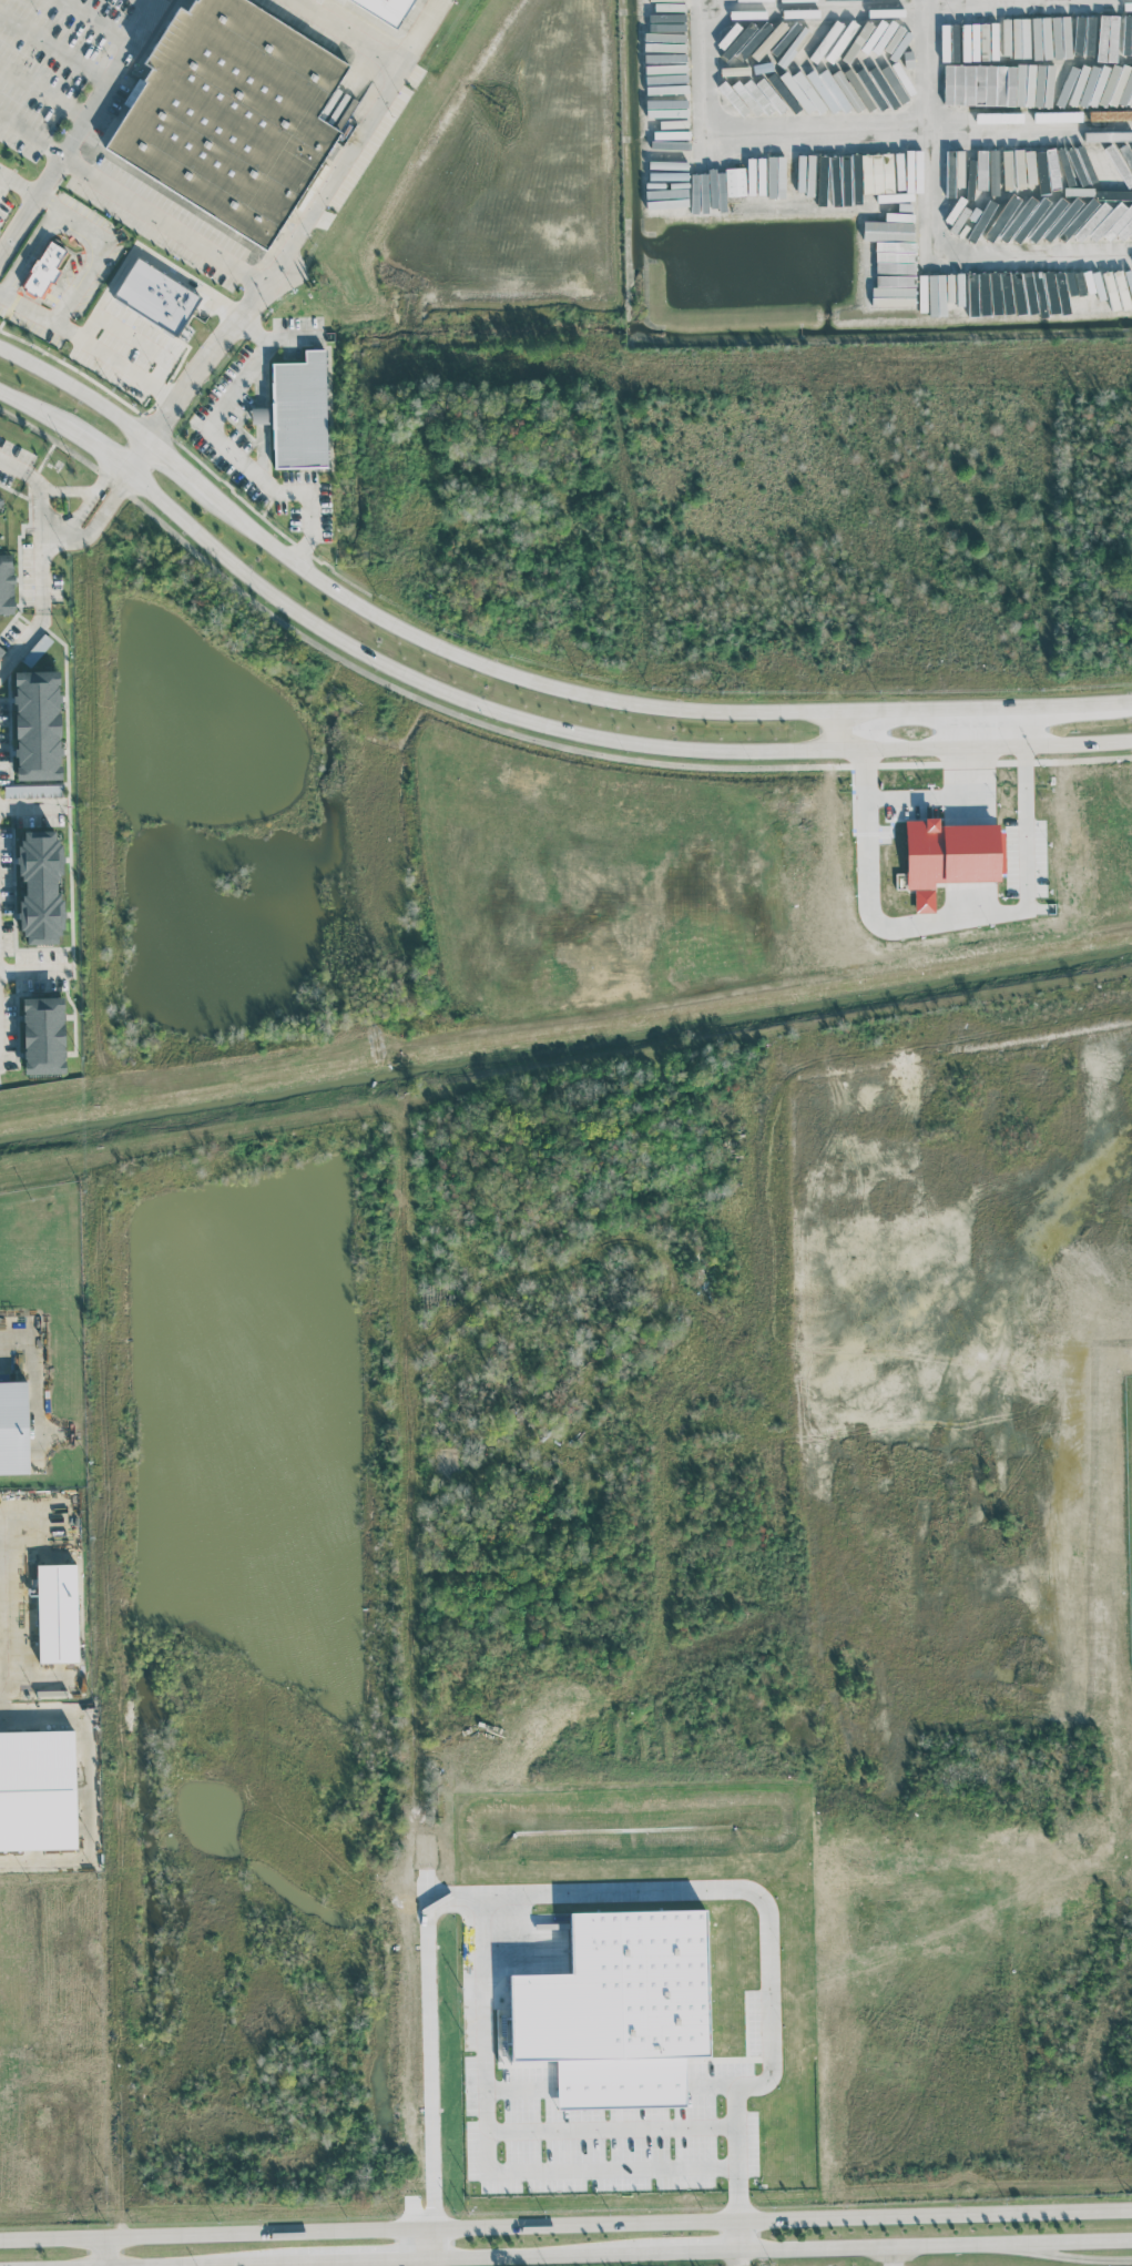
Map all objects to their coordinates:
road: (855, 2)
road: (150, 3)
building: (388, 8)
road: (93, 23)
road: (348, 32)
building: (1126, 34)
building: (1108, 37)
building: (671, 38)
road: (54, 43)
road: (704, 75)
building: (985, 84)
road: (43, 91)
building: (232, 113)
road: (79, 126)
road: (31, 134)
road: (894, 152)
road: (2, 177)
road: (19, 181)
building: (735, 181)
building: (847, 181)
building: (1059, 202)
road: (163, 219)
road: (299, 224)
building: (888, 230)
road: (99, 248)
building: (45, 268)
road: (971, 273)
building: (156, 296)
road: (88, 346)
road: (78, 388)
road: (32, 406)
building: (297, 411)
road: (225, 446)
road: (93, 448)
road: (137, 455)
road: (14, 465)
road: (183, 469)
road: (65, 488)
road: (91, 492)
building: (0, 499)
road: (103, 510)
road: (55, 530)
road: (42, 540)
building: (7, 585)
road: (22, 642)
building: (1, 651)
road: (647, 703)
building: (37, 725)
road: (838, 730)
road: (590, 736)
building: (32, 790)
road: (31, 804)
road: (93, 840)
building: (40, 886)
road: (33, 967)
building: (43, 1035)
road: (96, 1122)
road: (665, 1294)
building: (13, 1427)
road: (408, 1506)
building: (57, 1613)
road: (111, 1687)
building: (37, 1790)
road: (432, 2066)
road: (491, 2158)
road: (565, 2227)
road: (741, 2237)
road: (437, 2243)
road: (936, 2247)
road: (99, 2252)
road: (692, 2252)
road: (386, 2256)
road: (893, 2257)
road: (1079, 2257)
road: (741, 2258)

